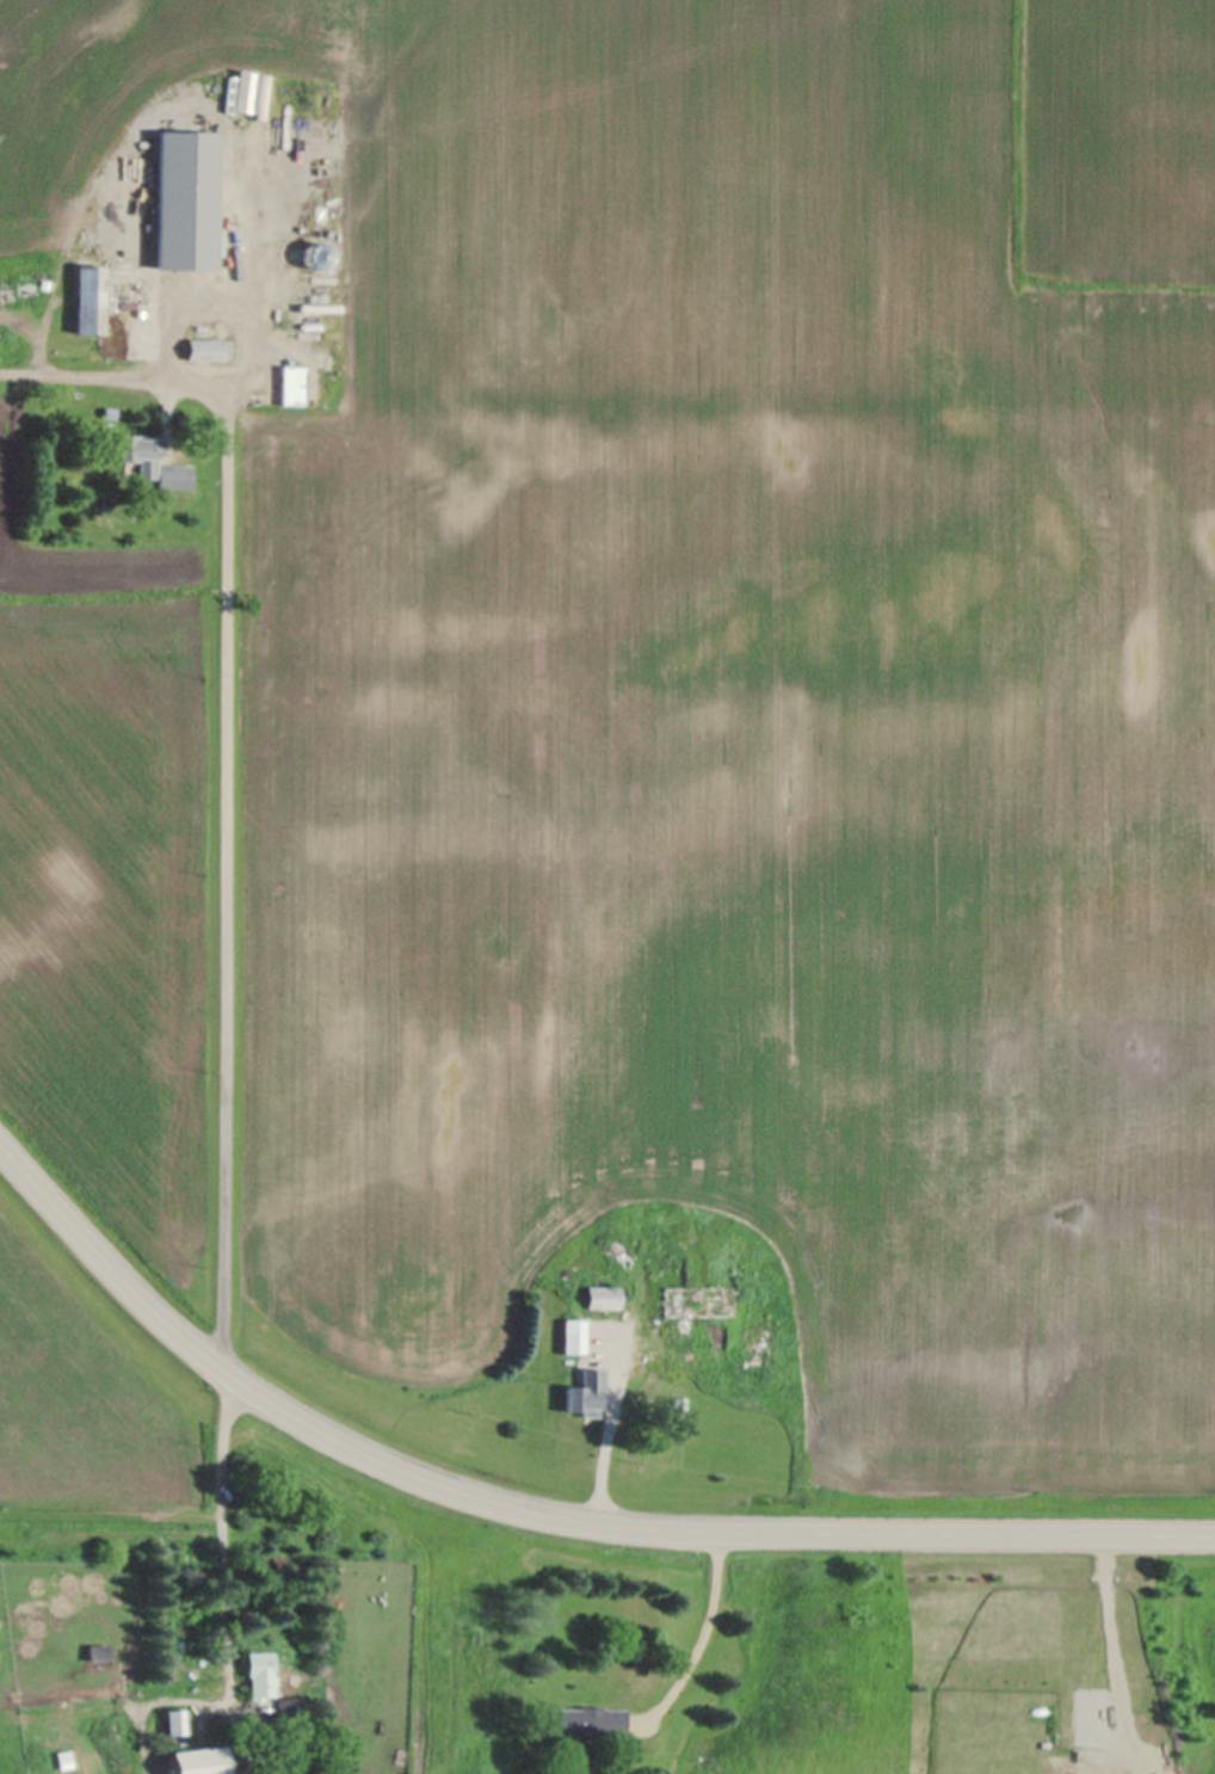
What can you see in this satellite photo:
road: (185, 92)
building: (181, 202)
building: (154, 251)
building: (309, 265)
building: (87, 300)
building: (169, 331)
building: (8, 333)
building: (203, 350)
building: (290, 384)
building: (107, 413)
building: (135, 454)
building: (129, 467)
building: (173, 478)
road: (221, 764)
building: (779, 1227)
building: (665, 1262)
building: (741, 1294)
building: (600, 1296)
building: (695, 1302)
building: (757, 1333)
building: (572, 1336)
road: (610, 1350)
building: (584, 1392)
building: (678, 1406)
road: (543, 1515)
road: (226, 1534)
road: (708, 1638)
building: (99, 1651)
building: (258, 1674)
building: (288, 1718)
building: (590, 1720)
building: (173, 1721)
building: (62, 1760)
building: (196, 1761)

